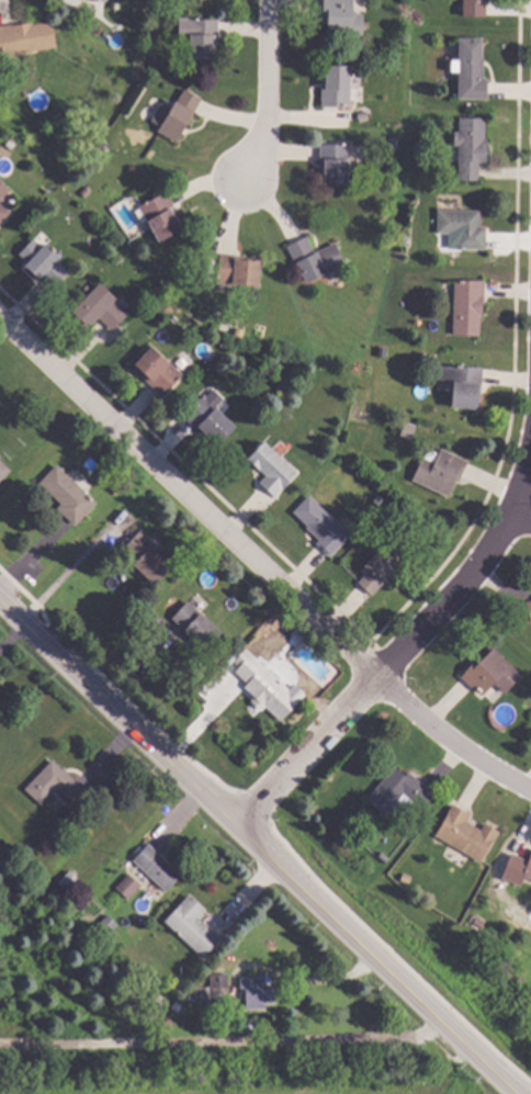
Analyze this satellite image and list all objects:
building: (101, 0)
building: (115, 5)
building: (475, 8)
building: (342, 18)
building: (201, 36)
building: (26, 37)
building: (472, 70)
building: (336, 87)
road: (263, 92)
building: (176, 115)
building: (363, 116)
building: (394, 143)
building: (472, 147)
building: (335, 162)
building: (3, 190)
building: (3, 212)
building: (161, 216)
building: (464, 228)
building: (316, 259)
building: (44, 262)
building: (238, 271)
building: (155, 289)
building: (468, 307)
building: (101, 308)
building: (238, 332)
building: (392, 361)
building: (158, 371)
building: (464, 385)
building: (283, 387)
building: (210, 420)
building: (408, 429)
building: (272, 469)
building: (3, 471)
building: (441, 472)
building: (116, 488)
building: (68, 495)
road: (188, 499)
building: (379, 499)
road: (521, 522)
building: (323, 526)
building: (147, 557)
building: (382, 567)
building: (530, 606)
building: (197, 625)
building: (301, 635)
road: (402, 651)
building: (492, 673)
building: (268, 687)
road: (449, 742)
building: (55, 785)
building: (400, 792)
building: (466, 834)
road: (258, 847)
building: (384, 858)
building: (158, 867)
building: (528, 870)
building: (407, 879)
building: (69, 880)
building: (128, 887)
building: (478, 923)
building: (110, 924)
building: (193, 926)
building: (214, 990)
building: (260, 993)
building: (157, 1002)
road: (222, 1044)

